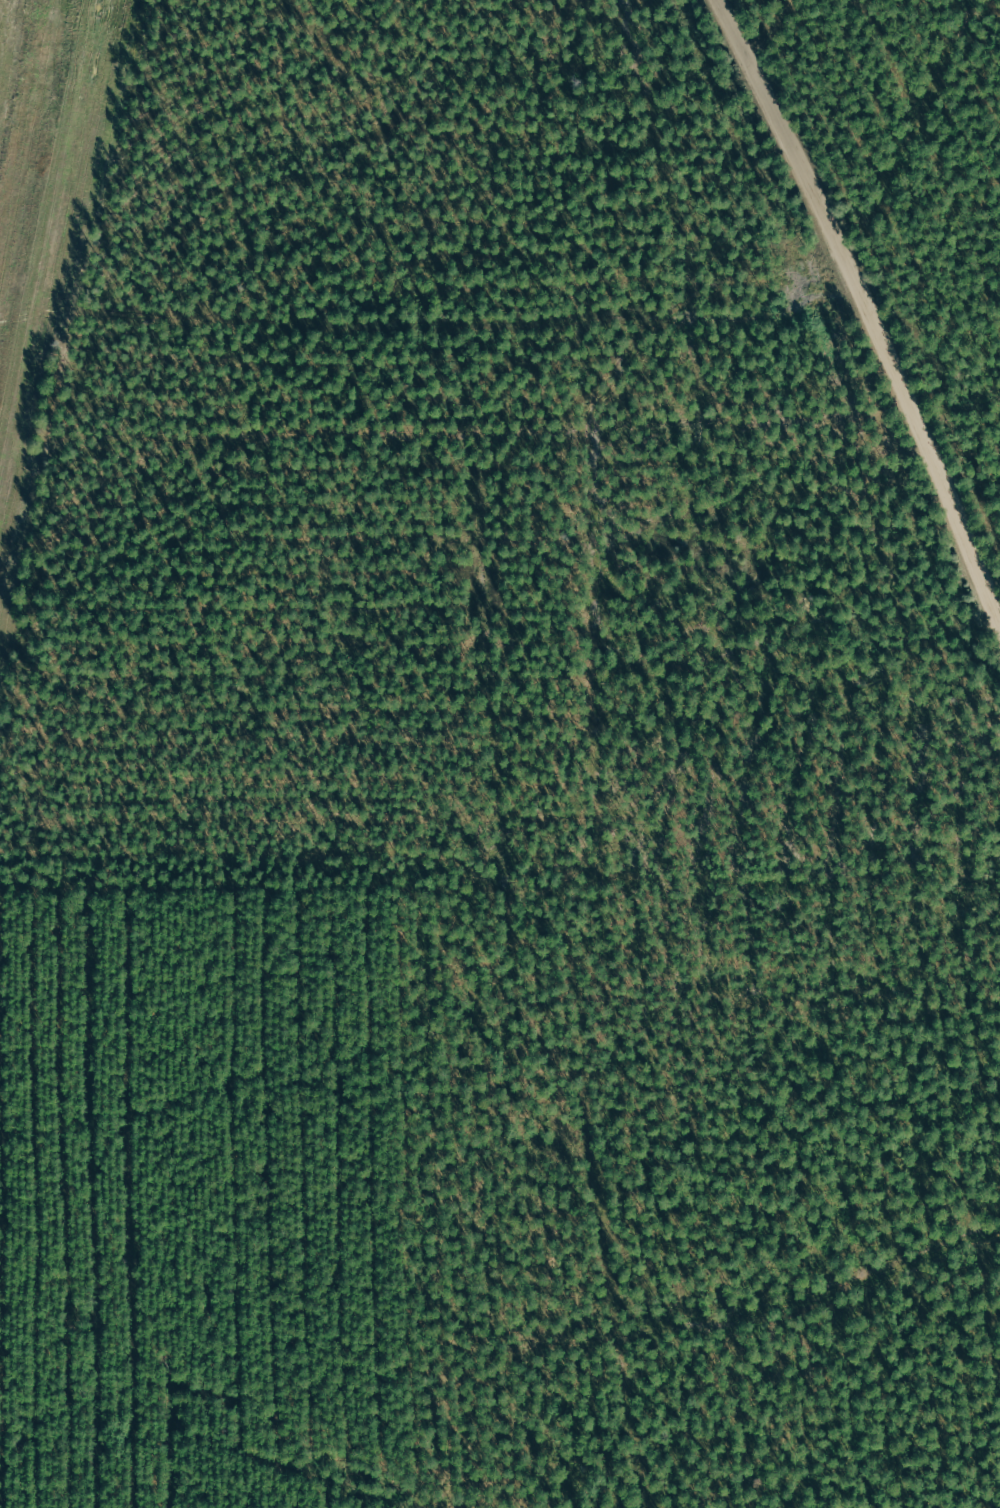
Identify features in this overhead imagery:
road: (892, 263)

